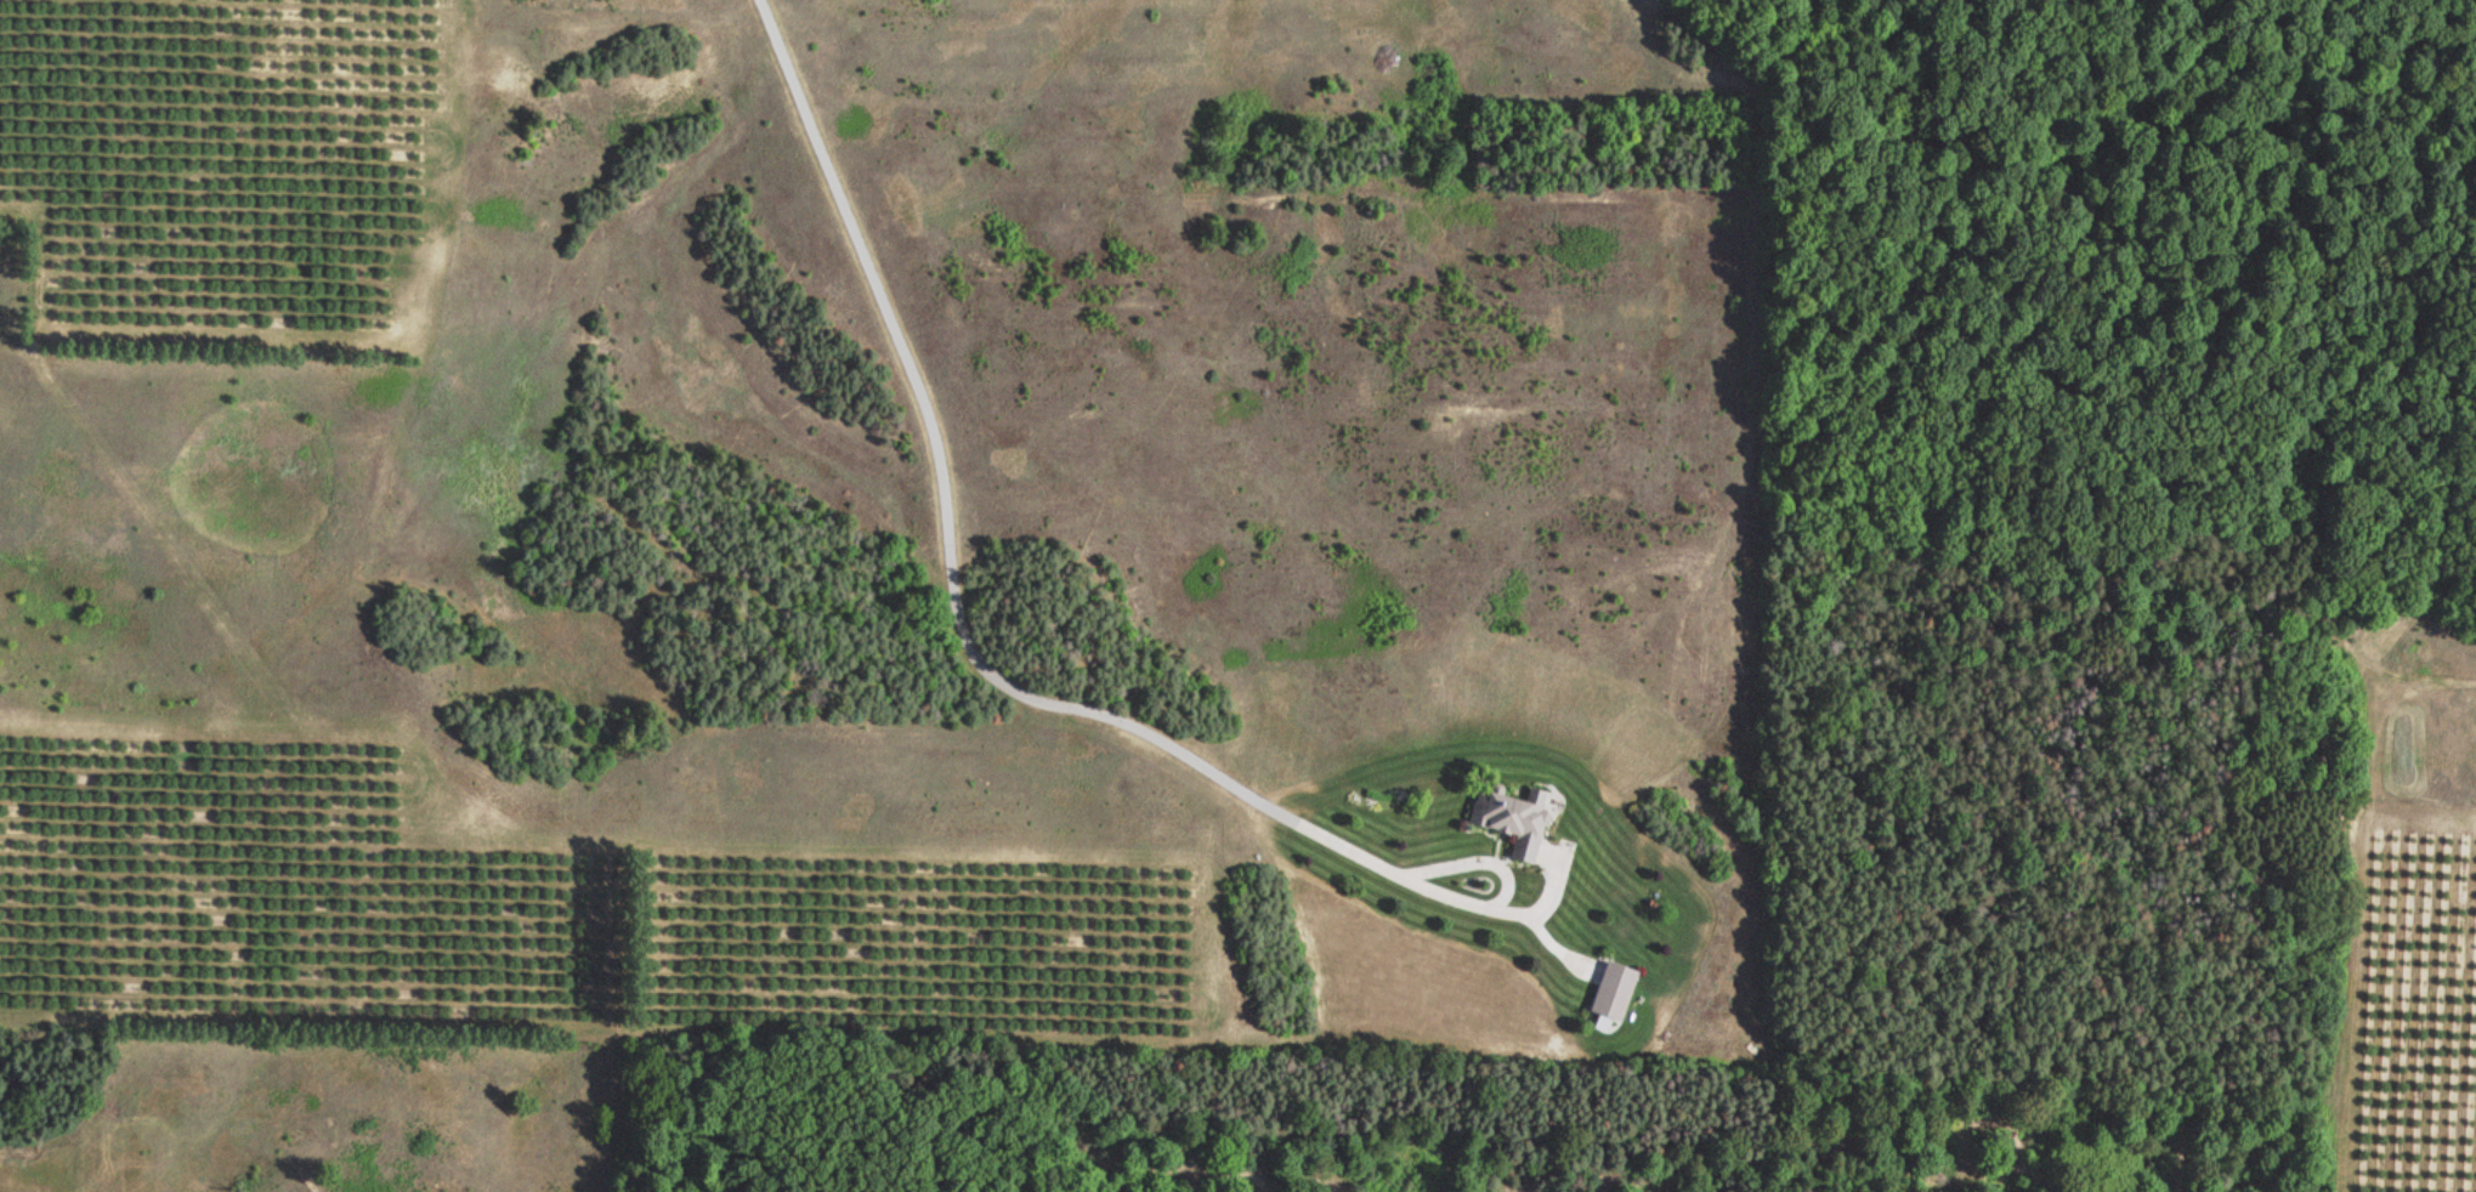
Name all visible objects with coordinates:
building: (1508, 824)
building: (1610, 993)

